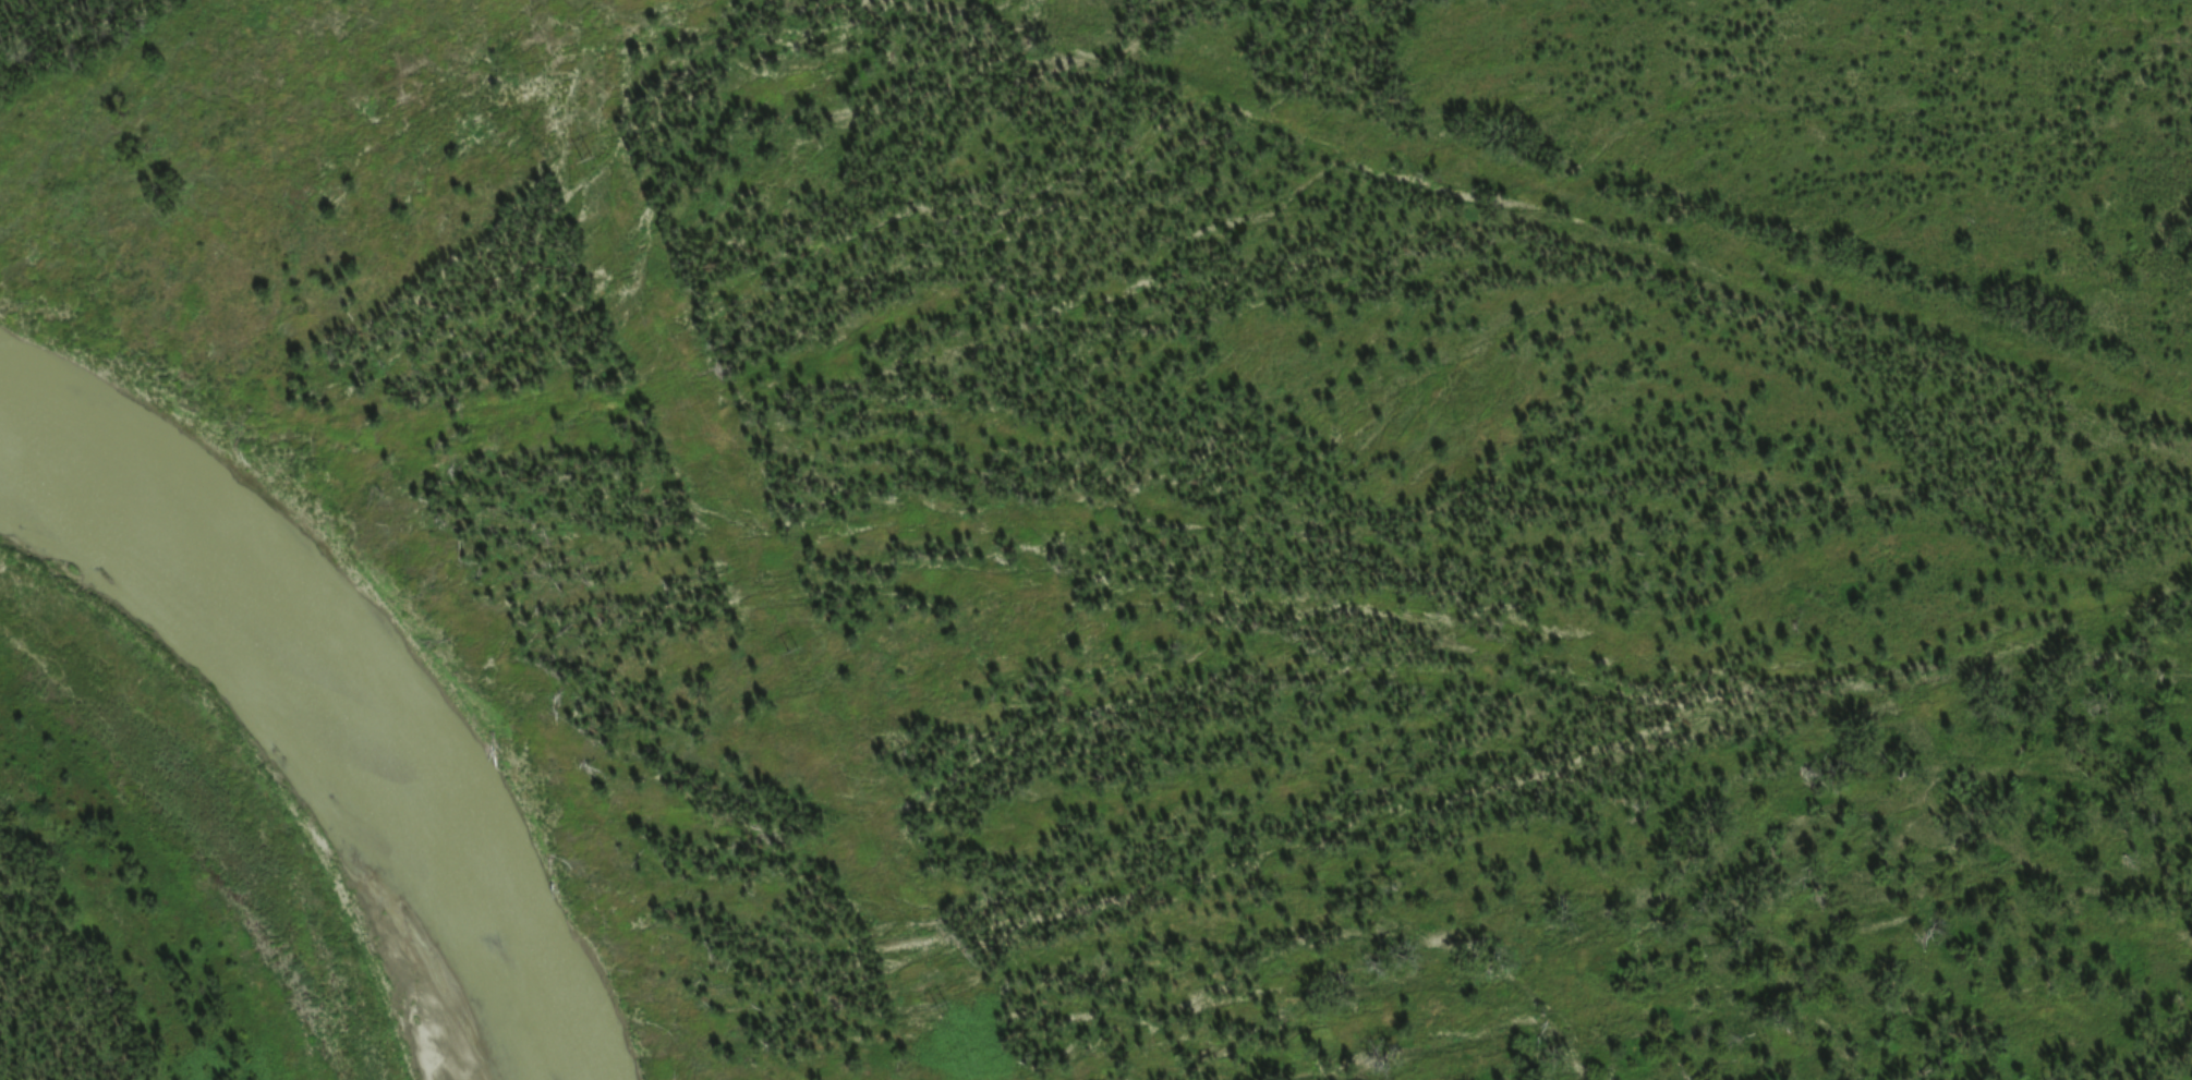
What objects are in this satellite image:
power tower: (589, 161)
power tower: (795, 652)
river: (304, 688)
power tower: (941, 1005)

